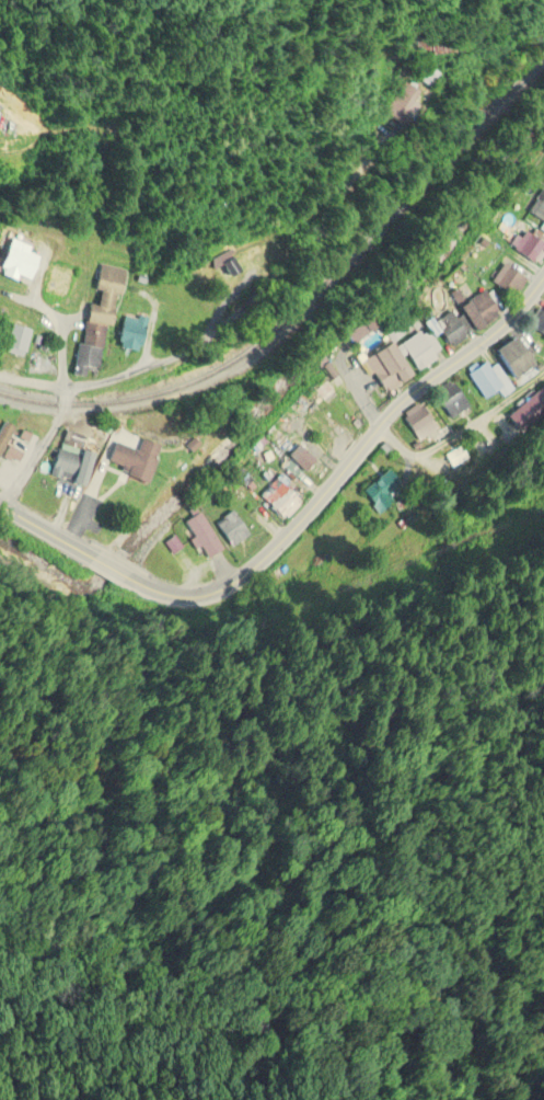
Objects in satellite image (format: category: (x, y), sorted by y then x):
building: (431, 77)
building: (403, 100)
building: (537, 206)
building: (526, 244)
building: (254, 254)
building: (21, 259)
building: (60, 278)
building: (509, 278)
building: (111, 279)
railway: (310, 302)
building: (482, 309)
building: (534, 318)
building: (449, 325)
building: (362, 330)
building: (134, 332)
building: (18, 339)
road: (206, 345)
building: (91, 346)
road: (524, 346)
building: (419, 347)
building: (513, 358)
building: (381, 367)
building: (486, 378)
building: (326, 391)
road: (62, 396)
building: (448, 399)
building: (511, 413)
road: (481, 419)
building: (417, 421)
building: (5, 433)
road: (395, 443)
building: (150, 446)
building: (305, 450)
road: (31, 457)
building: (73, 460)
building: (136, 460)
road: (346, 465)
building: (379, 491)
building: (280, 497)
building: (51, 501)
building: (232, 528)
road: (42, 536)
building: (205, 538)
building: (154, 554)
road: (106, 570)

